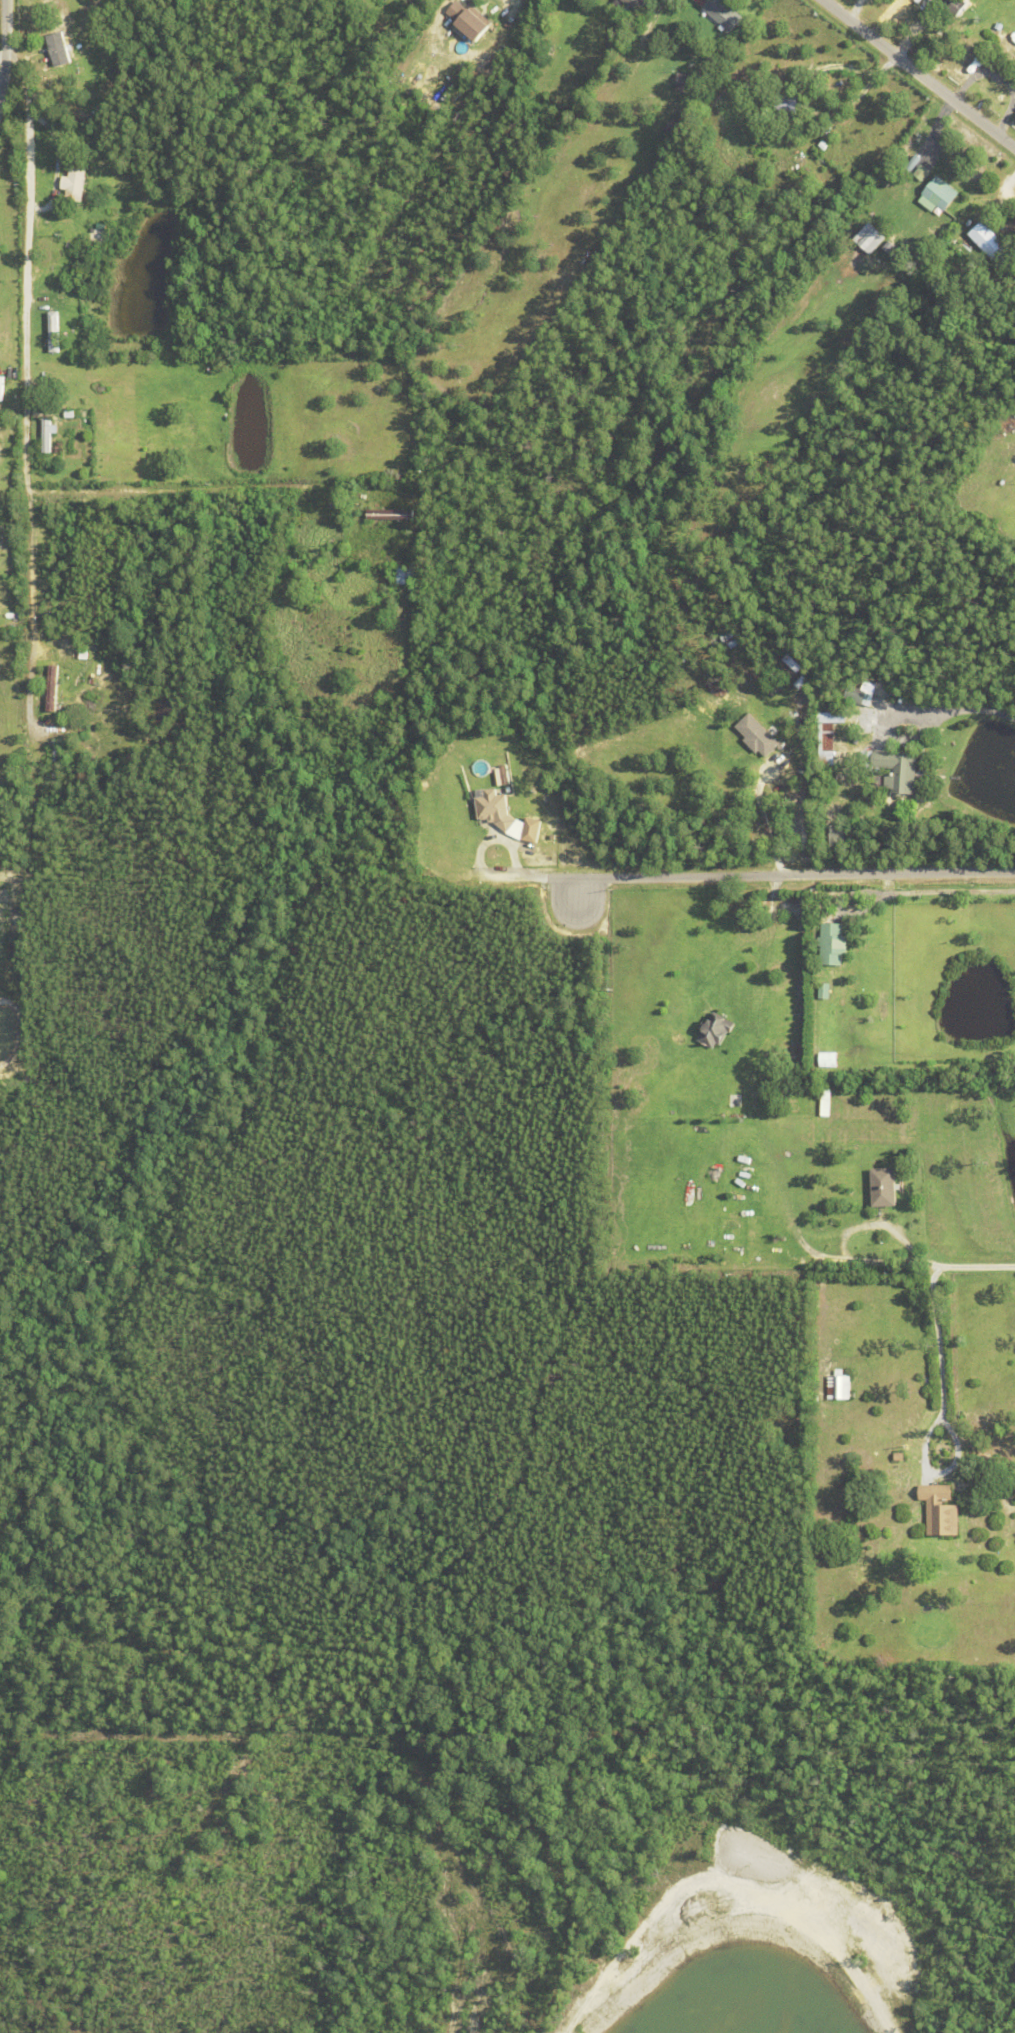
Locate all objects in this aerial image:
building: (481, 1)
building: (955, 5)
building: (628, 6)
building: (723, 12)
building: (468, 18)
building: (1010, 42)
road: (6, 47)
building: (57, 47)
building: (405, 60)
building: (70, 68)
road: (919, 74)
building: (683, 81)
building: (790, 102)
building: (684, 111)
building: (755, 118)
building: (85, 121)
building: (666, 125)
building: (761, 125)
building: (770, 134)
building: (822, 144)
building: (72, 154)
building: (911, 162)
building: (921, 172)
building: (761, 182)
building: (72, 183)
building: (937, 194)
building: (96, 237)
building: (871, 237)
building: (990, 243)
building: (888, 246)
building: (899, 256)
building: (918, 257)
building: (975, 296)
building: (52, 330)
road: (24, 383)
building: (68, 413)
building: (46, 433)
road: (169, 490)
building: (390, 514)
building: (61, 568)
building: (406, 576)
building: (49, 613)
building: (385, 629)
building: (731, 643)
building: (82, 654)
building: (51, 688)
building: (855, 695)
road: (956, 714)
building: (756, 735)
building: (826, 737)
building: (53, 765)
building: (896, 771)
building: (494, 809)
road: (758, 823)
building: (531, 830)
building: (836, 835)
building: (538, 857)
road: (766, 874)
building: (502, 875)
building: (830, 945)
building: (823, 991)
building: (716, 1031)
building: (827, 1060)
building: (883, 1188)
building: (730, 1228)
road: (849, 1231)
road: (976, 1266)
building: (838, 1387)
road: (938, 1410)
building: (898, 1458)
building: (938, 1512)
building: (847, 1673)
building: (364, 1958)

